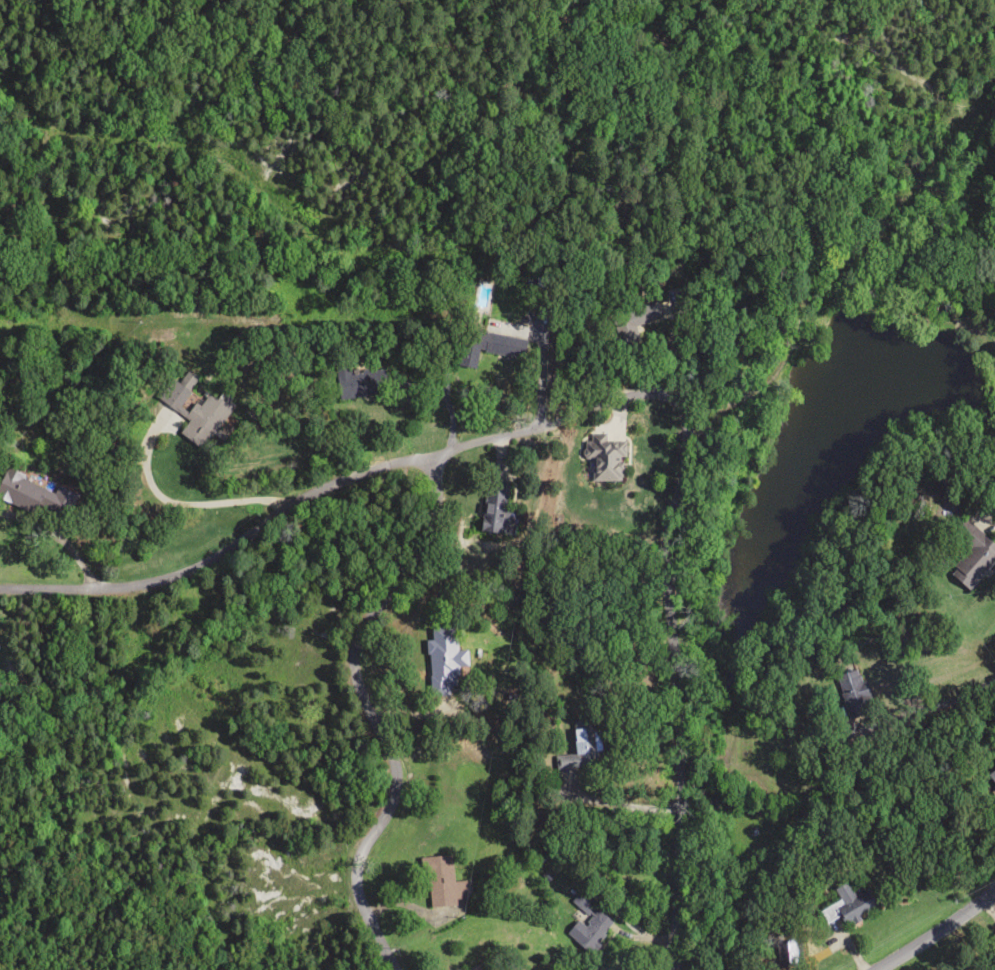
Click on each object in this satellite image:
building: (488, 345)
building: (360, 384)
road: (593, 420)
building: (602, 457)
building: (18, 491)
building: (493, 506)
building: (970, 553)
building: (442, 659)
building: (851, 690)
road: (378, 714)
building: (580, 744)
building: (442, 879)
building: (851, 902)
road: (935, 929)
building: (588, 931)
building: (478, 966)

